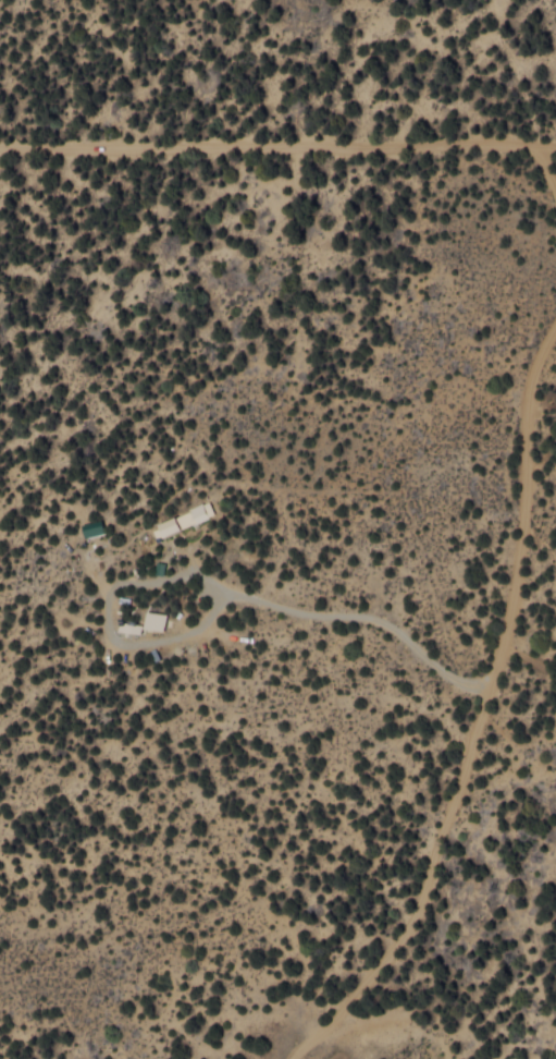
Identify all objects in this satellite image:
road: (254, 369)
building: (191, 519)
building: (98, 527)
building: (160, 620)
building: (133, 626)

